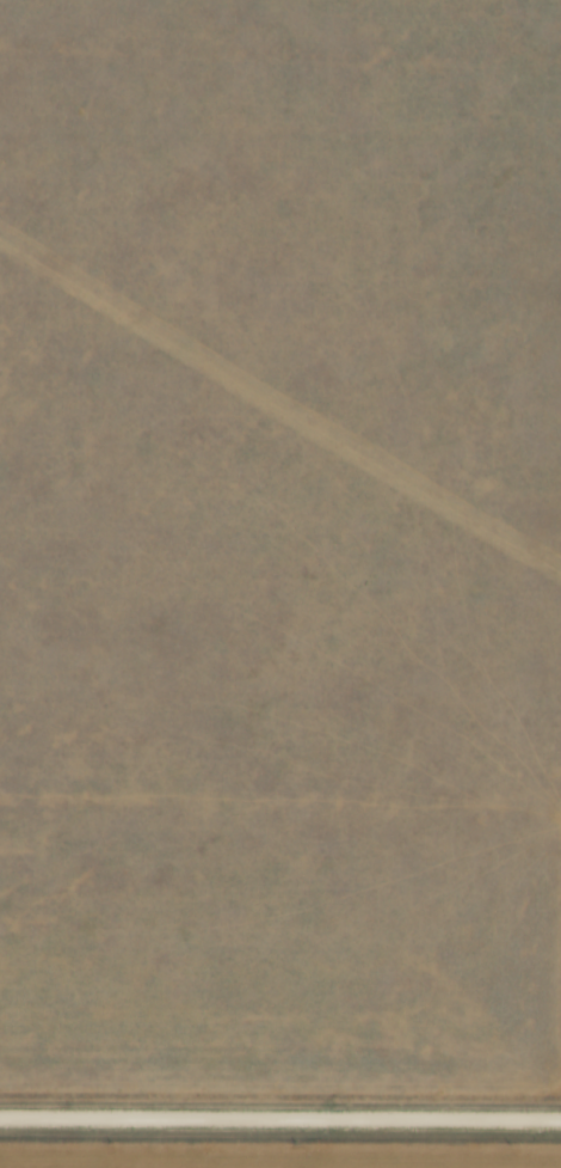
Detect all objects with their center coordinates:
road: (279, 1119)

